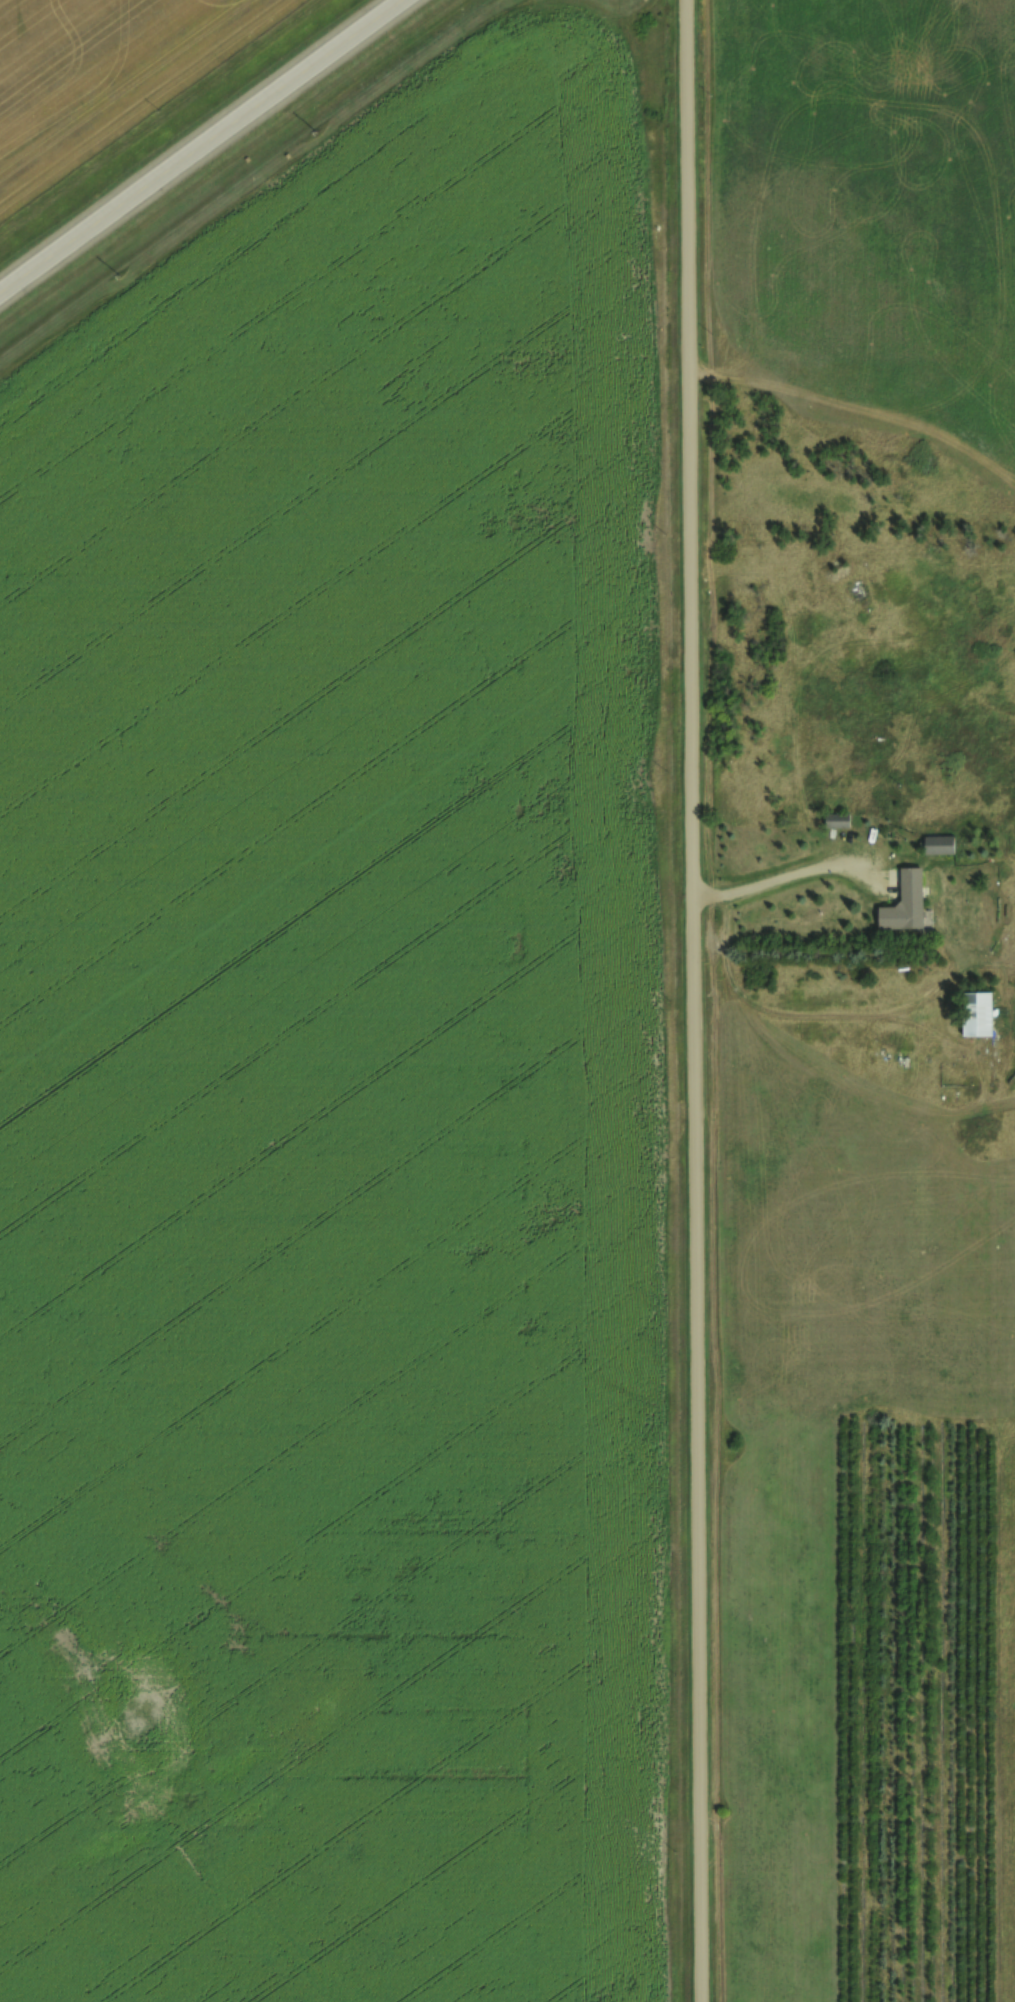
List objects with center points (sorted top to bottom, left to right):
road: (202, 148)
building: (836, 821)
building: (937, 845)
building: (903, 903)
road: (694, 1001)
building: (977, 1014)

